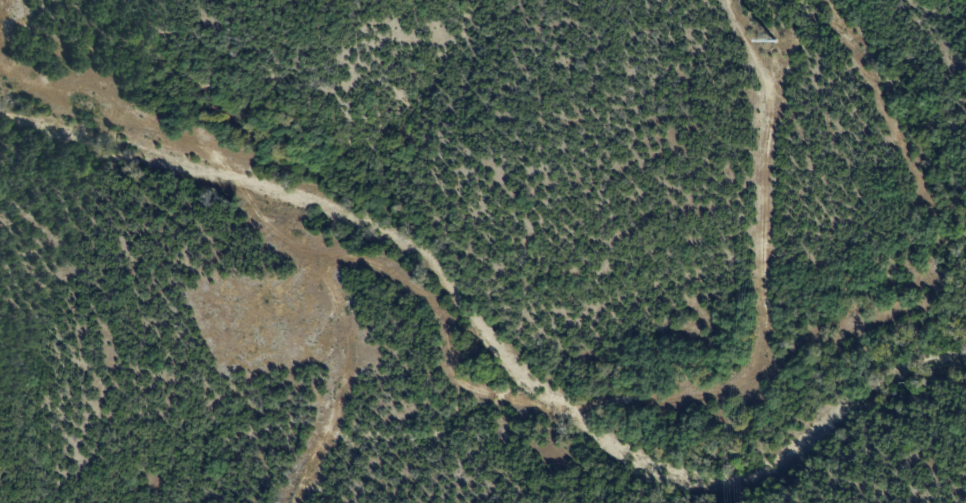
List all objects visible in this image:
power tower: (776, 43)

